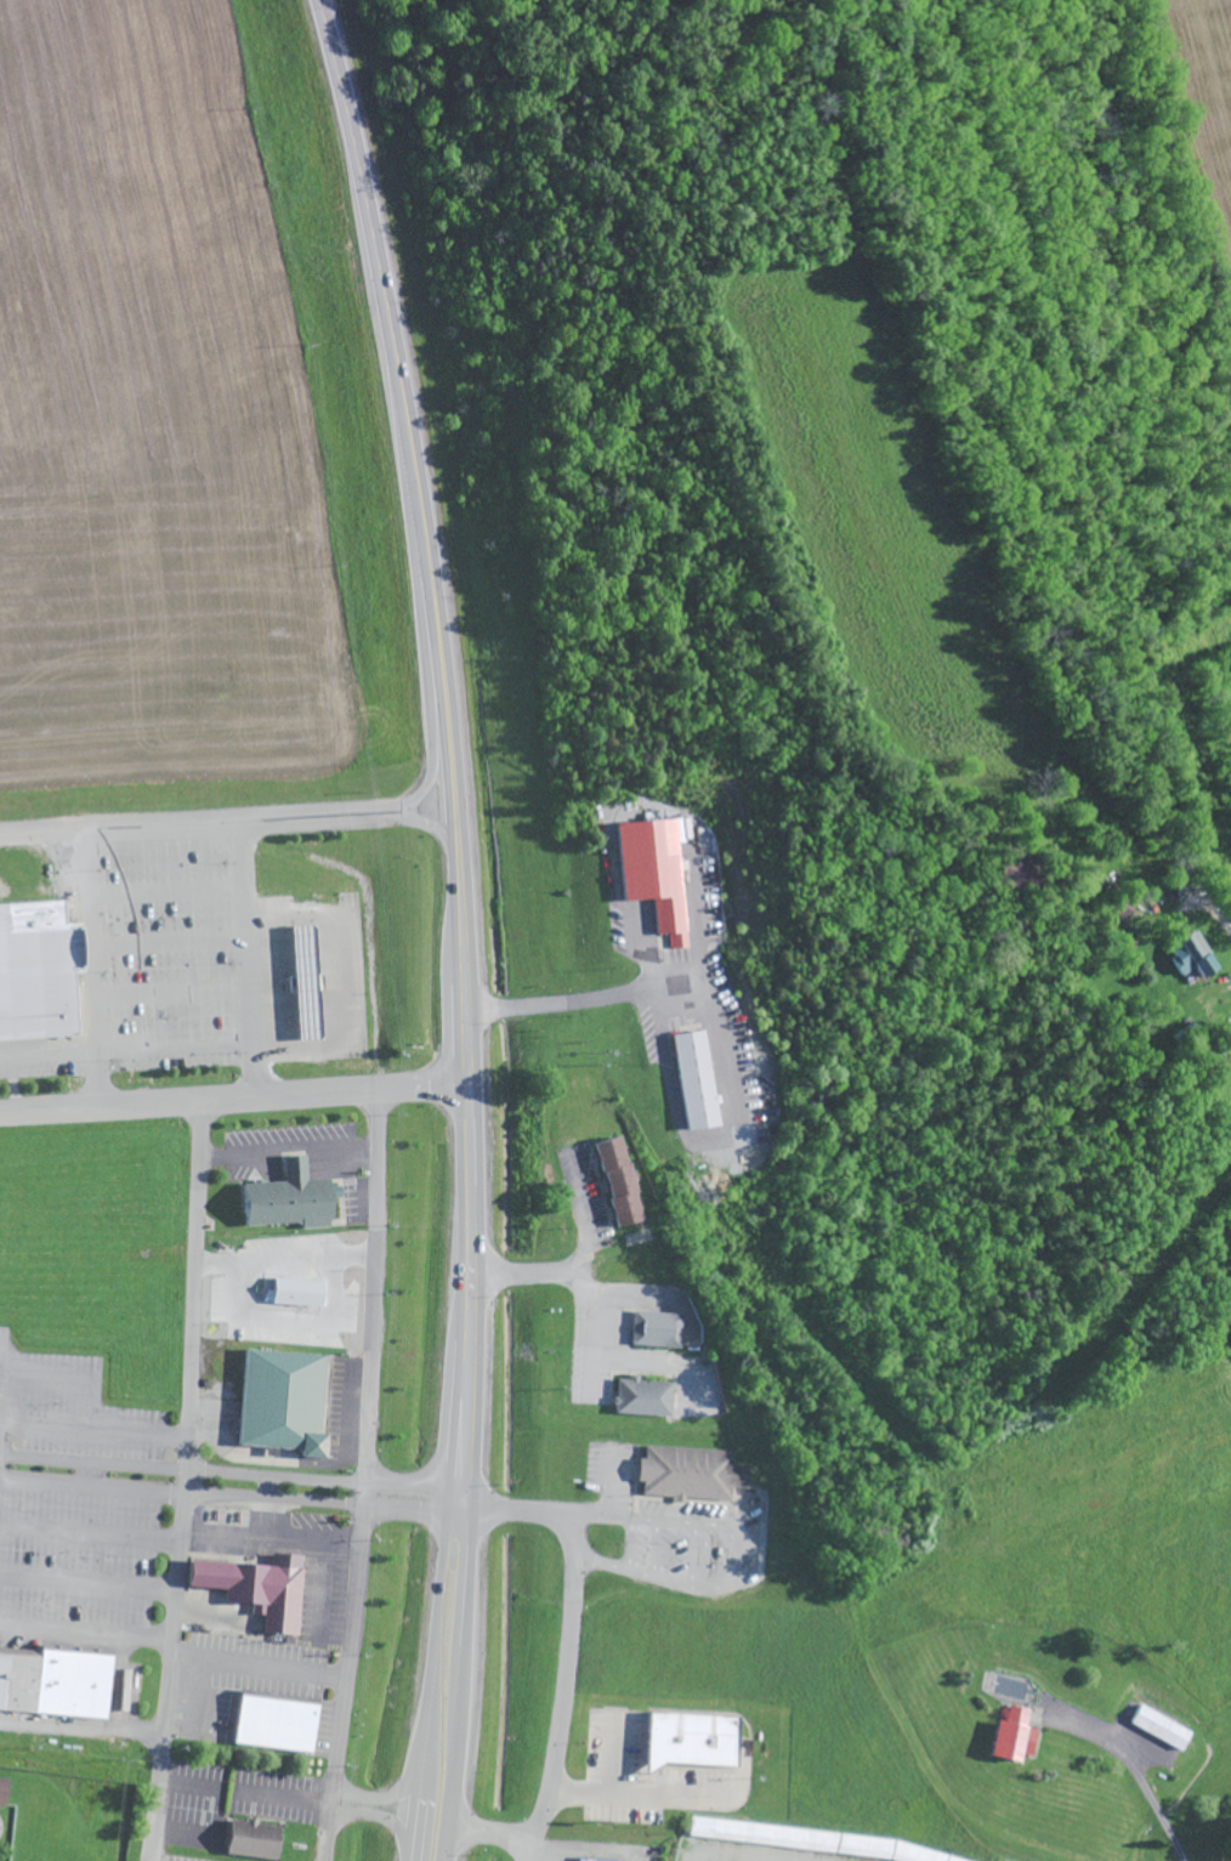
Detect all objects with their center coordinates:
road: (436, 747)
road: (453, 749)
road: (354, 816)
road: (163, 827)
road: (44, 834)
building: (656, 873)
building: (1017, 873)
road: (168, 891)
road: (1221, 921)
road: (170, 940)
parking lot: (169, 954)
building: (1185, 957)
building: (35, 974)
gas station: (314, 980)
road: (174, 991)
road: (577, 999)
road: (176, 1040)
road: (50, 1060)
building: (692, 1082)
road: (234, 1105)
parking lot: (276, 1142)
building: (617, 1179)
building: (289, 1197)
parking lot: (350, 1199)
road: (580, 1280)
building: (293, 1293)
building: (656, 1327)
building: (643, 1395)
building: (280, 1400)
road: (5, 1414)
road: (83, 1429)
road: (93, 1465)
building: (690, 1473)
road: (363, 1479)
road: (324, 1481)
road: (186, 1485)
road: (92, 1488)
road: (322, 1503)
road: (91, 1533)
road: (270, 1541)
road: (736, 1553)
road: (89, 1583)
road: (469, 1584)
building: (256, 1585)
road: (323, 1588)
road: (86, 1624)
road: (437, 1649)
road: (259, 1667)
road: (563, 1674)
road: (130, 1683)
building: (51, 1684)
building: (255, 1723)
building: (293, 1727)
road: (83, 1729)
building: (1158, 1729)
building: (688, 1737)
building: (1009, 1737)
road: (455, 1759)
parking lot: (651, 1772)
road: (1138, 1772)
building: (2, 1786)
road: (191, 1788)
road: (285, 1798)
road: (378, 1806)
road: (422, 1825)
building: (250, 1839)
road: (529, 1855)
building: (590, 1860)

